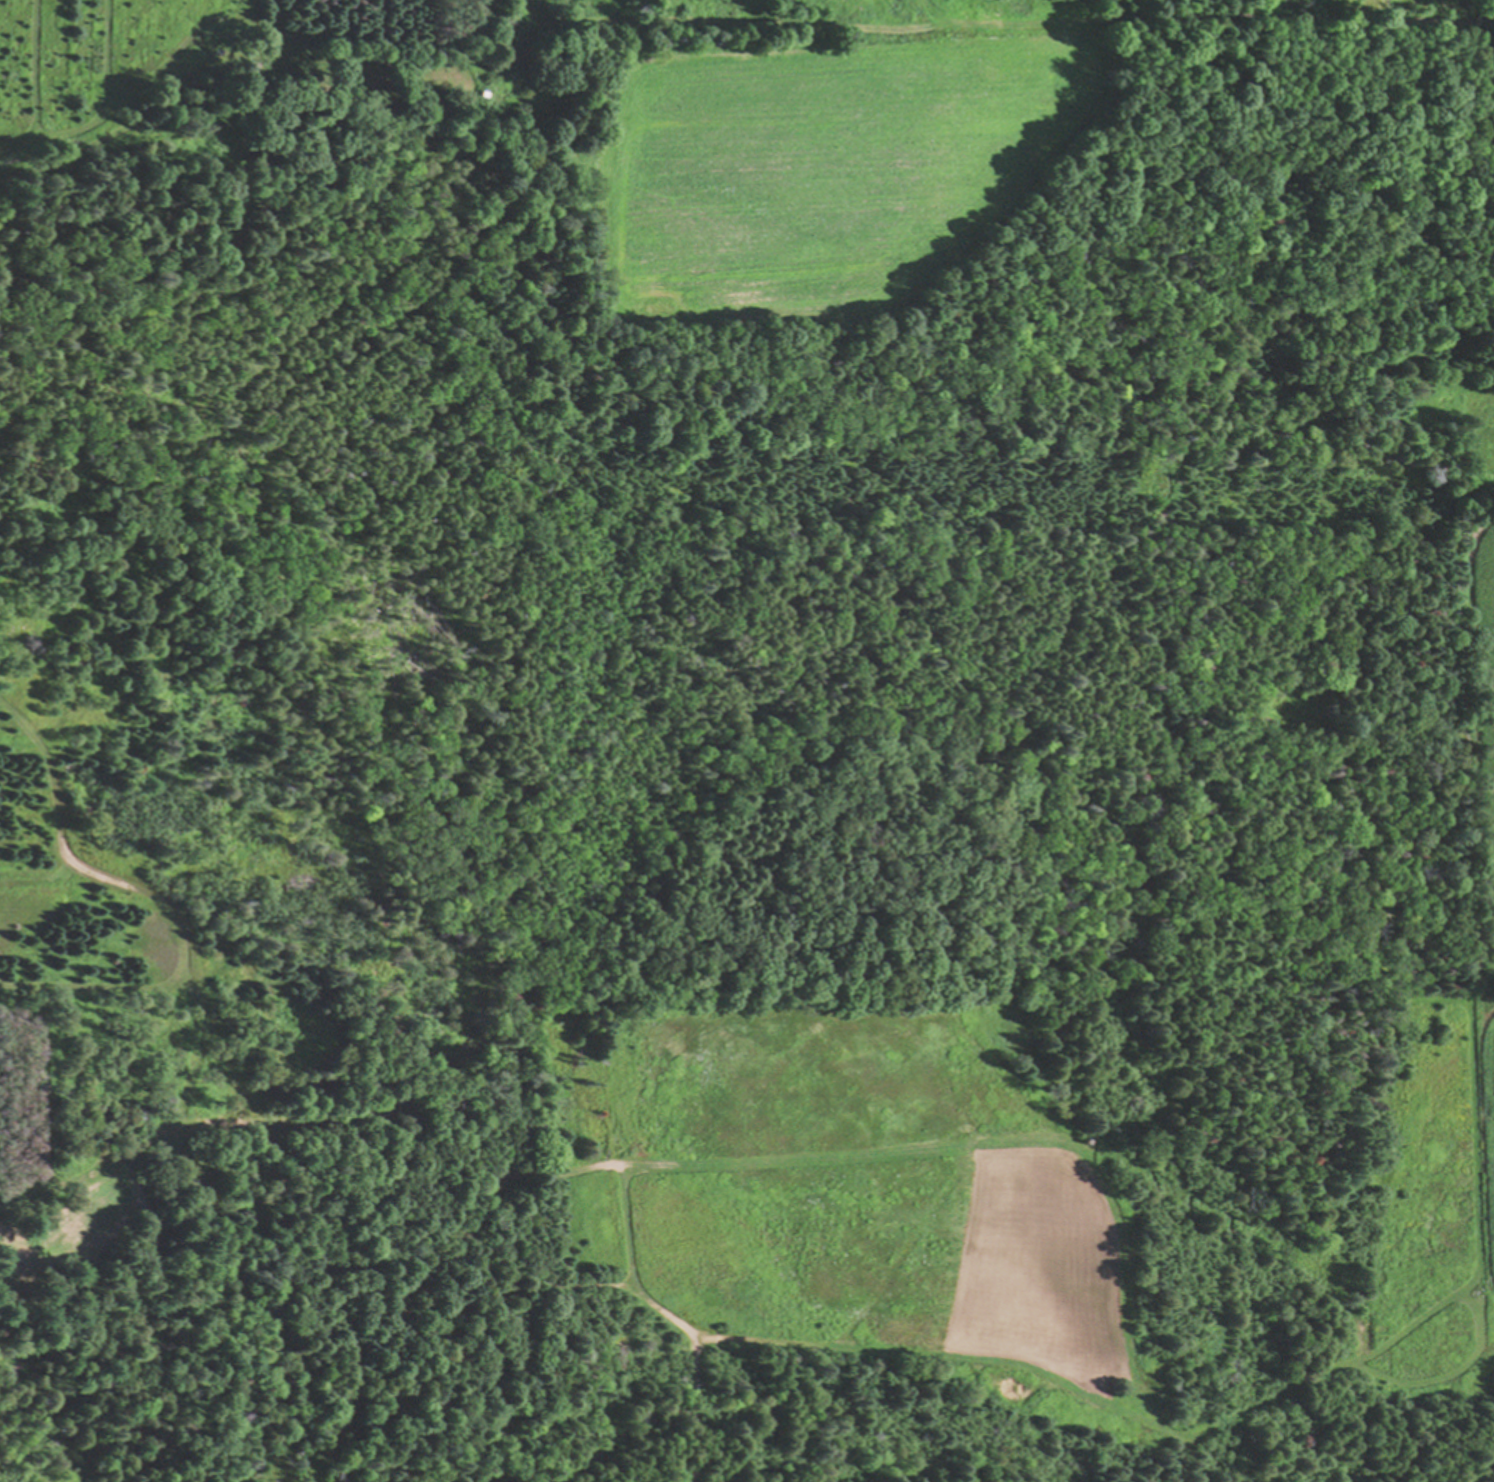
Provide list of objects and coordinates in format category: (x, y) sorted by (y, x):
road: (1307, 20)

